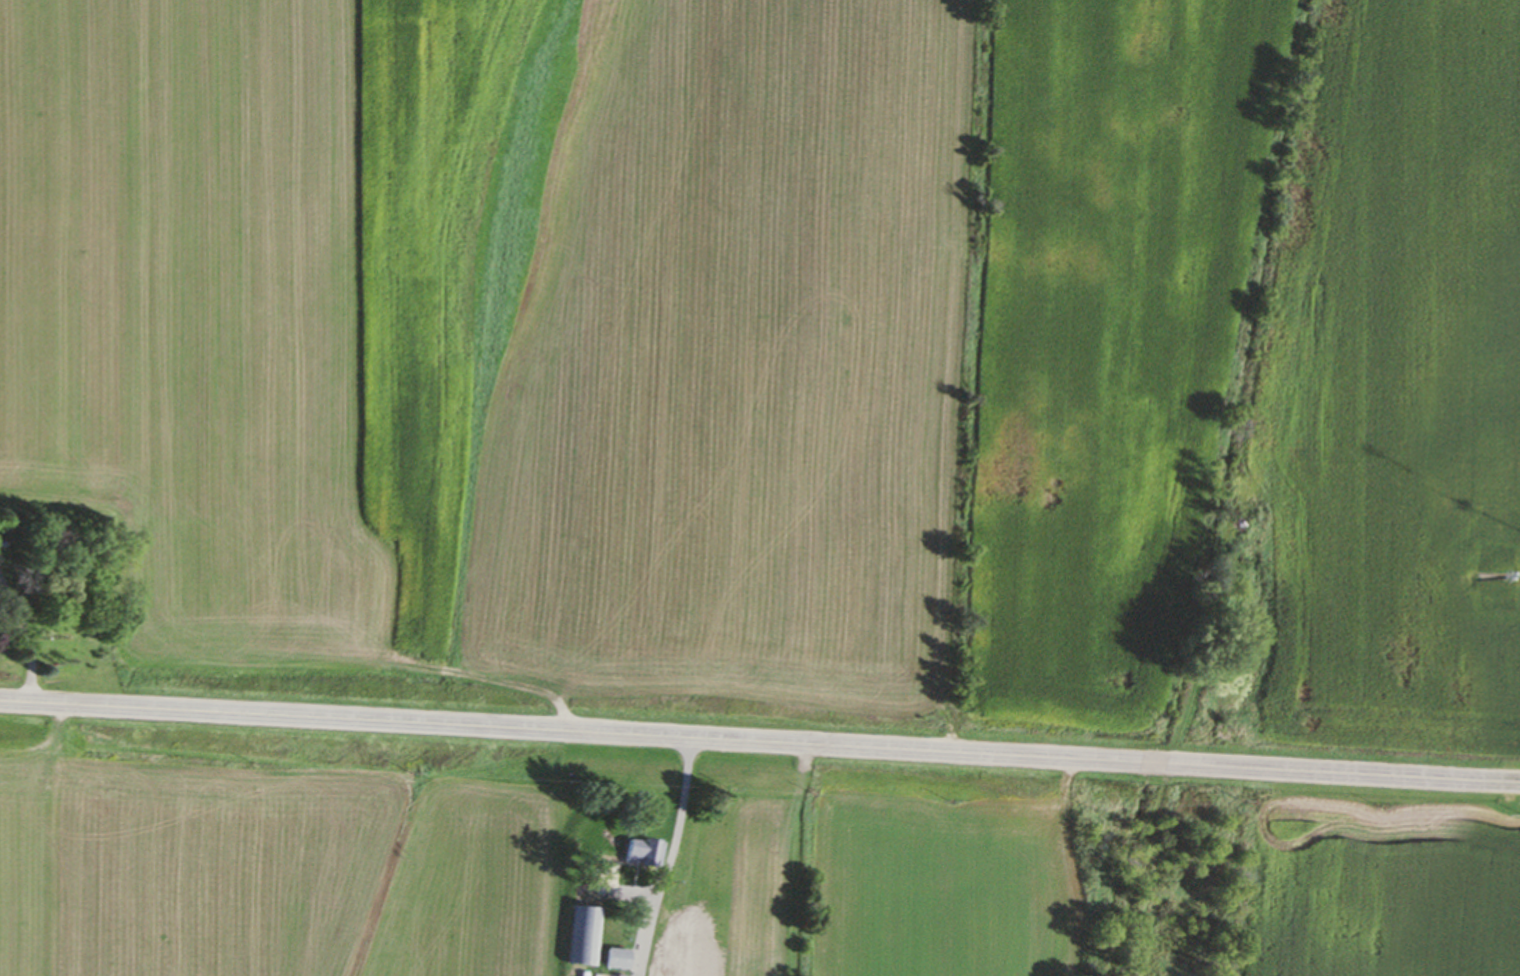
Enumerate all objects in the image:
road: (21, 644)
road: (759, 741)
building: (634, 850)
road: (670, 857)
building: (581, 936)
building: (612, 959)
building: (677, 970)

